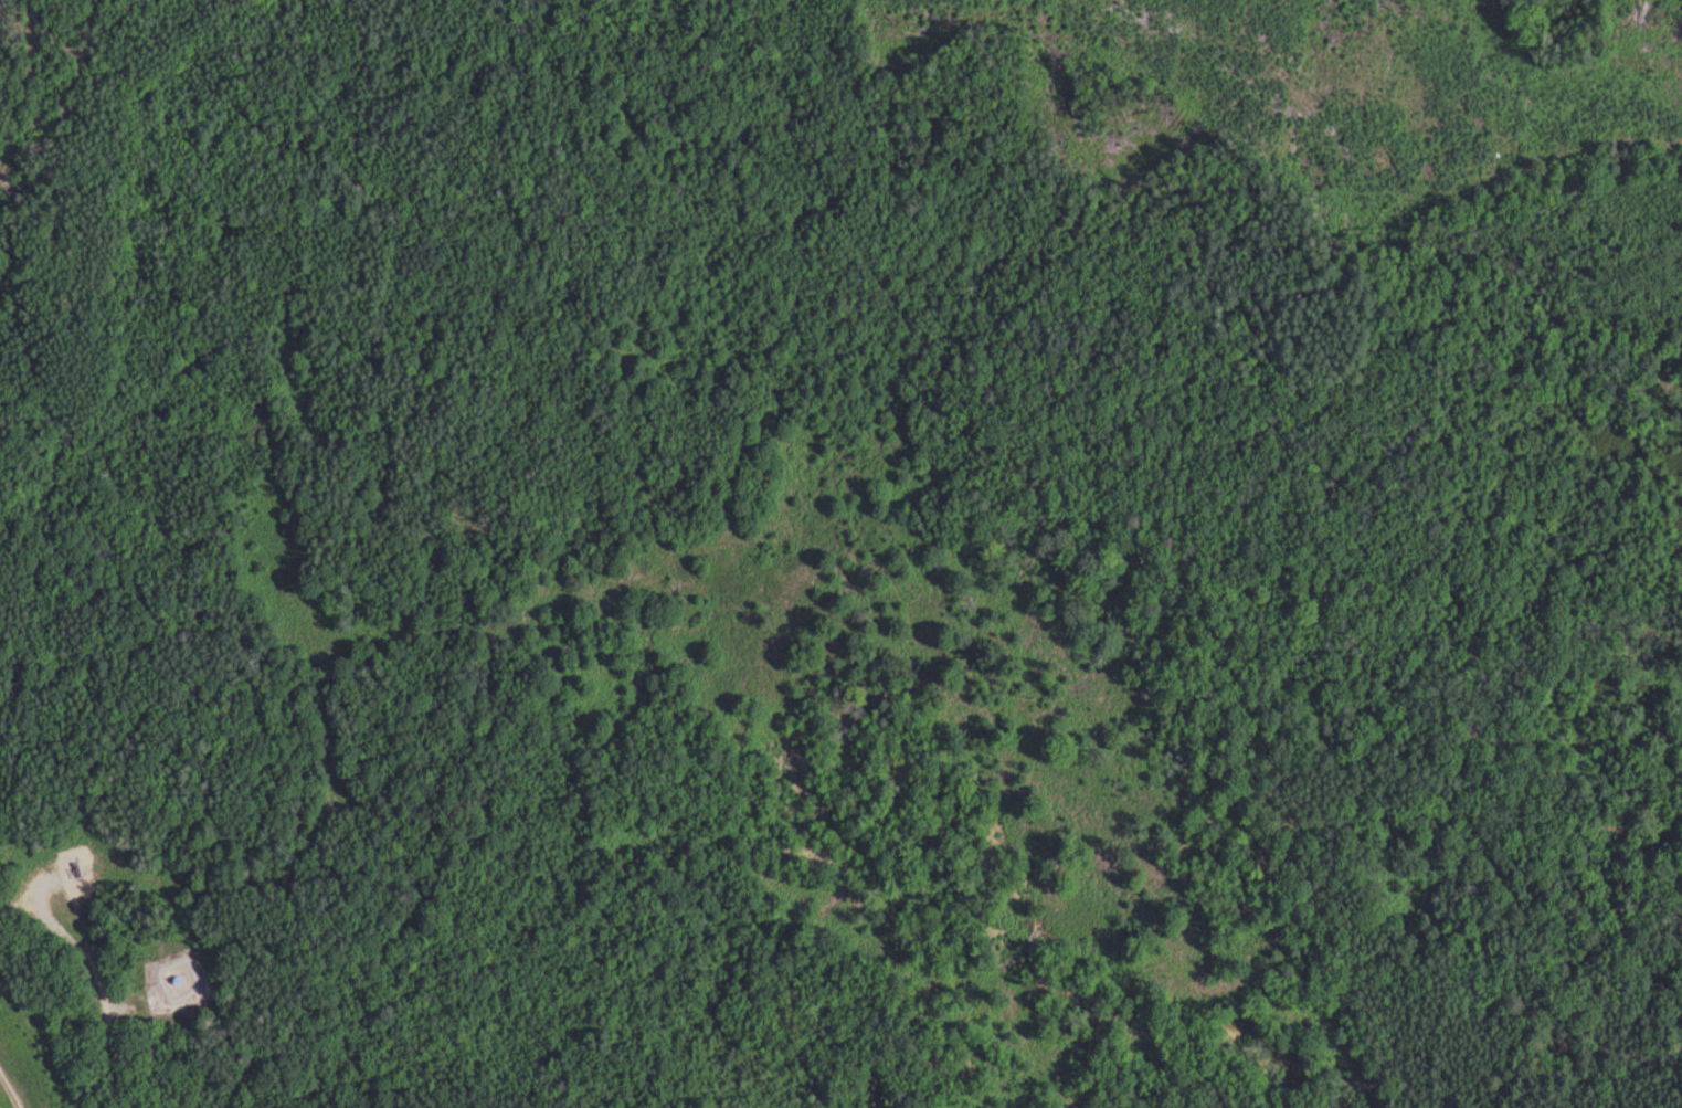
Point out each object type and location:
petroleum well: (80, 874)
road: (105, 1028)
road: (6, 1096)

